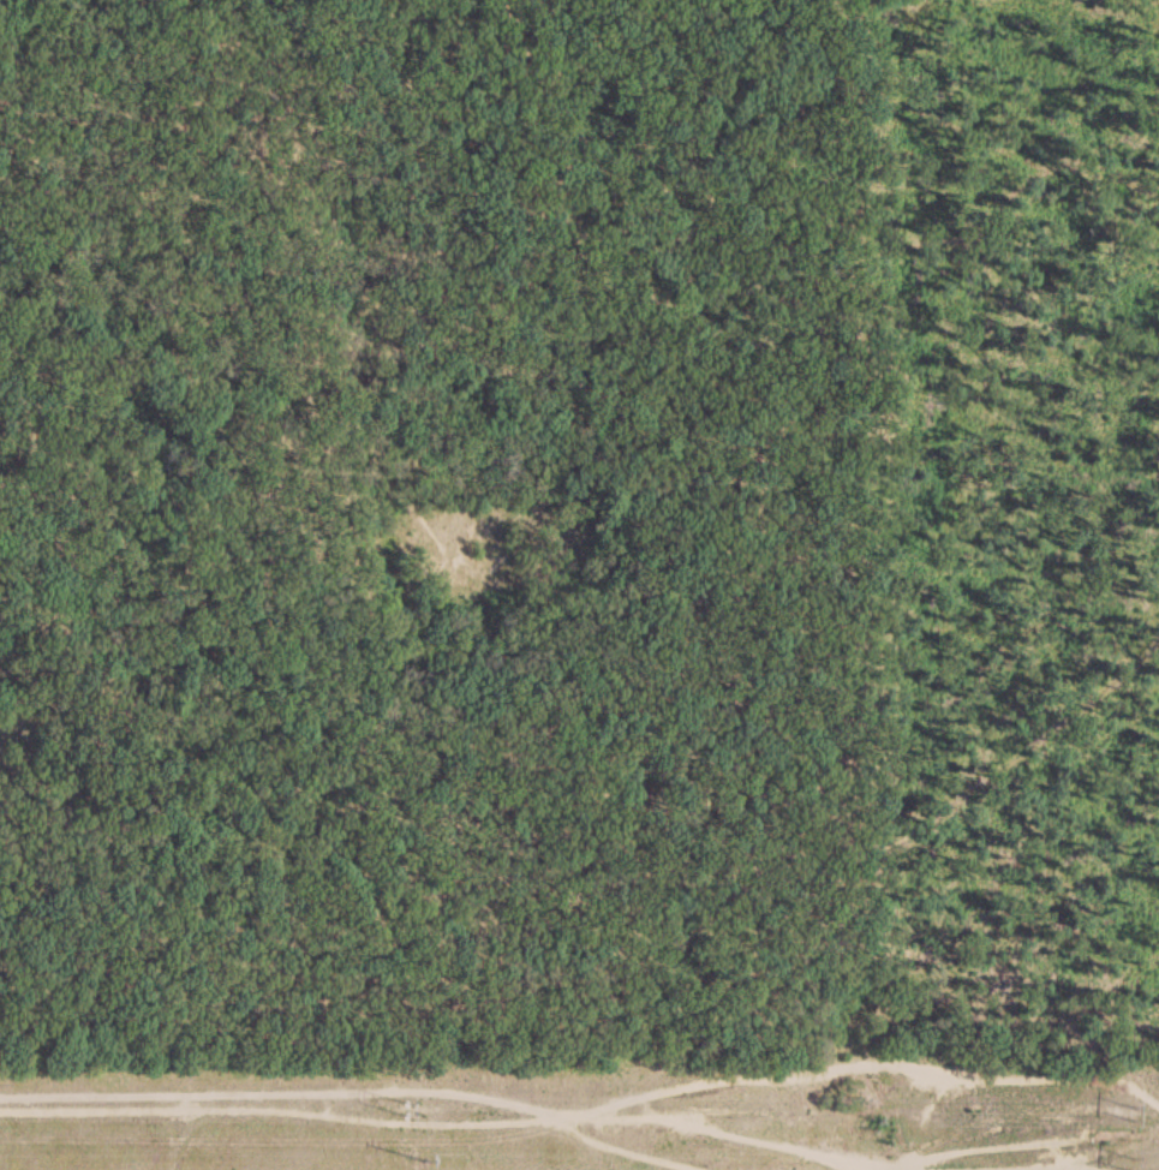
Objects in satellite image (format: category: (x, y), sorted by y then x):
power tower: (414, 1108)
power tower: (1131, 1111)
power tower: (423, 1160)
power tower: (1130, 1165)

